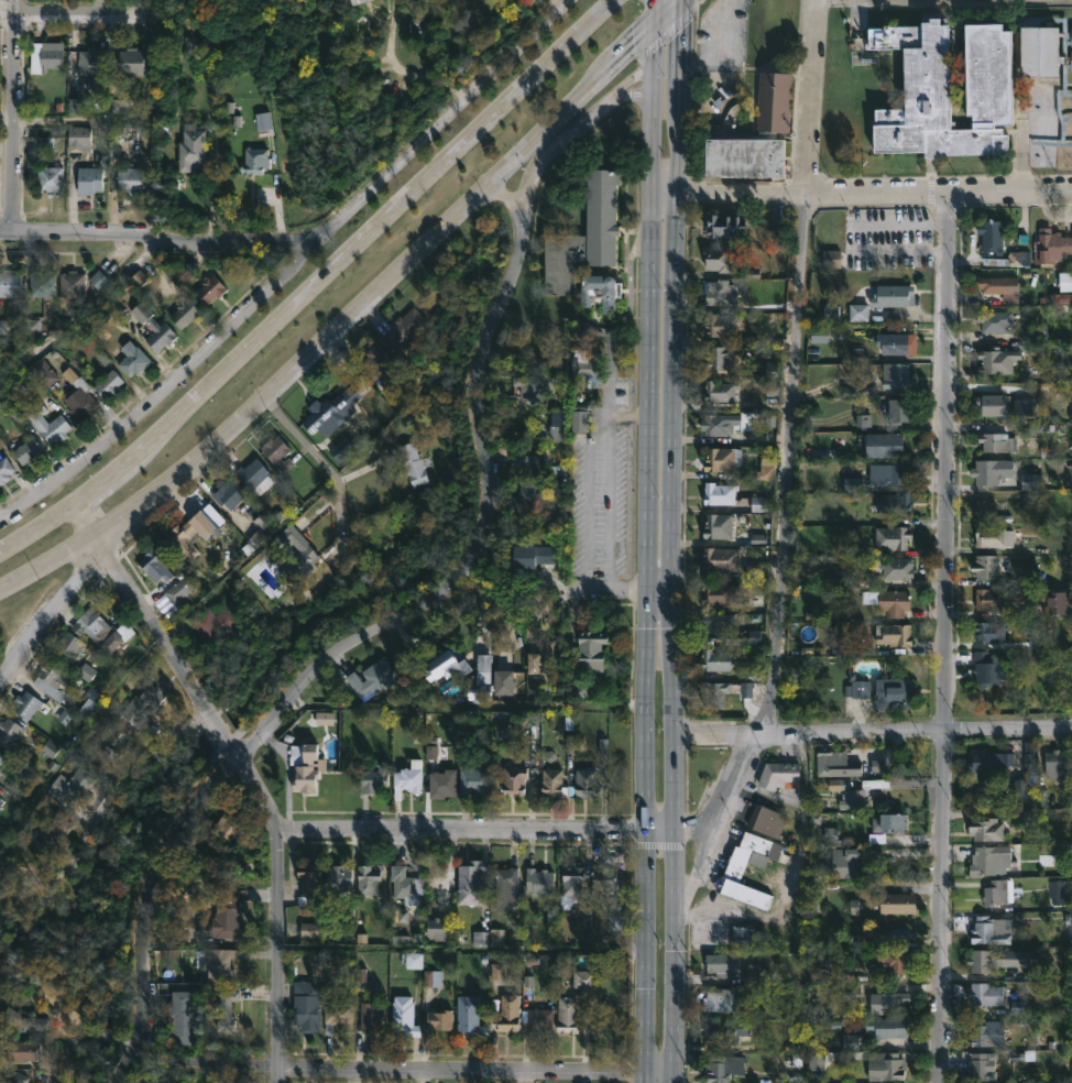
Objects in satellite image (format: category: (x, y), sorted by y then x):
traffic signals: (686, 0)
building: (357, 1)
road: (697, 3)
road: (564, 4)
road: (70, 10)
road: (656, 14)
road: (670, 14)
traffic signals: (656, 29)
road: (667, 32)
road: (654, 50)
building: (1042, 50)
building: (43, 56)
building: (1071, 58)
building: (132, 59)
building: (92, 65)
road: (403, 68)
road: (630, 80)
road: (636, 81)
building: (949, 89)
road: (632, 94)
building: (774, 102)
building: (125, 105)
road: (572, 106)
building: (1068, 107)
road: (13, 114)
road: (7, 122)
building: (264, 125)
building: (78, 134)
building: (46, 144)
road: (554, 146)
building: (194, 147)
building: (254, 161)
building: (50, 178)
building: (129, 178)
building: (90, 179)
road: (862, 193)
road: (508, 198)
building: (728, 226)
road: (164, 232)
building: (587, 234)
building: (993, 234)
building: (1051, 247)
building: (718, 258)
building: (1008, 259)
road: (294, 269)
building: (100, 282)
building: (10, 283)
building: (72, 283)
road: (315, 283)
building: (44, 285)
building: (1002, 287)
building: (209, 289)
building: (720, 291)
building: (601, 292)
building: (884, 299)
building: (184, 313)
building: (996, 320)
building: (722, 325)
building: (153, 326)
building: (406, 327)
building: (894, 341)
building: (720, 358)
building: (133, 359)
building: (997, 361)
building: (381, 364)
building: (44, 372)
building: (895, 374)
building: (108, 384)
building: (524, 389)
building: (719, 392)
building: (79, 396)
building: (993, 404)
road: (259, 406)
road: (606, 408)
building: (899, 411)
building: (330, 412)
road: (627, 416)
building: (580, 422)
building: (47, 423)
building: (719, 423)
road: (788, 439)
building: (994, 441)
road: (306, 442)
building: (886, 445)
building: (28, 451)
building: (277, 455)
building: (723, 459)
building: (525, 460)
building: (414, 463)
building: (6, 469)
building: (993, 470)
building: (765, 471)
building: (891, 472)
building: (254, 475)
building: (720, 493)
building: (229, 494)
building: (527, 495)
building: (893, 504)
road: (610, 511)
building: (985, 512)
building: (263, 527)
building: (719, 527)
building: (189, 534)
building: (997, 536)
building: (891, 538)
road: (669, 541)
building: (293, 544)
building: (533, 556)
building: (305, 557)
building: (721, 558)
building: (156, 566)
building: (986, 566)
building: (891, 567)
road: (645, 577)
building: (179, 589)
road: (606, 591)
building: (718, 593)
building: (1000, 597)
building: (889, 601)
building: (1060, 602)
building: (215, 623)
road: (52, 624)
building: (717, 624)
building: (98, 630)
building: (991, 633)
building: (894, 634)
road: (942, 637)
building: (69, 646)
road: (344, 646)
building: (592, 650)
building: (540, 658)
building: (714, 660)
building: (449, 666)
building: (987, 667)
road: (177, 668)
building: (372, 678)
building: (52, 679)
building: (482, 680)
building: (504, 683)
building: (857, 688)
building: (715, 691)
building: (895, 693)
building: (89, 703)
building: (25, 704)
building: (143, 705)
building: (9, 731)
road: (874, 731)
building: (2, 755)
building: (991, 759)
building: (1, 761)
building: (1029, 761)
building: (1058, 764)
building: (304, 765)
building: (838, 765)
building: (779, 774)
building: (374, 777)
building: (407, 777)
building: (514, 778)
road: (128, 779)
building: (473, 779)
building: (554, 781)
building: (586, 781)
building: (444, 783)
building: (76, 787)
building: (766, 820)
building: (231, 822)
building: (888, 824)
building: (52, 829)
building: (987, 829)
road: (478, 832)
building: (995, 860)
building: (855, 861)
building: (734, 871)
road: (694, 873)
building: (605, 877)
building: (370, 878)
building: (336, 879)
building: (472, 879)
building: (310, 880)
building: (540, 882)
building: (575, 882)
building: (406, 885)
building: (507, 888)
building: (998, 891)
building: (897, 901)
building: (221, 920)
building: (439, 927)
building: (989, 930)
building: (745, 934)
building: (897, 937)
road: (462, 951)
road: (280, 956)
building: (1003, 959)
building: (894, 961)
building: (722, 962)
building: (221, 964)
building: (583, 977)
building: (986, 994)
building: (719, 998)
building: (893, 999)
building: (306, 1006)
building: (227, 1009)
building: (508, 1013)
building: (371, 1014)
building: (568, 1014)
building: (340, 1015)
building: (182, 1016)
building: (403, 1016)
building: (472, 1016)
building: (537, 1017)
building: (25, 1019)
building: (440, 1019)
building: (886, 1027)
building: (729, 1029)
road: (77, 1031)
building: (983, 1032)
building: (20, 1050)
building: (980, 1064)
building: (886, 1065)
road: (396, 1068)
building: (717, 1068)

